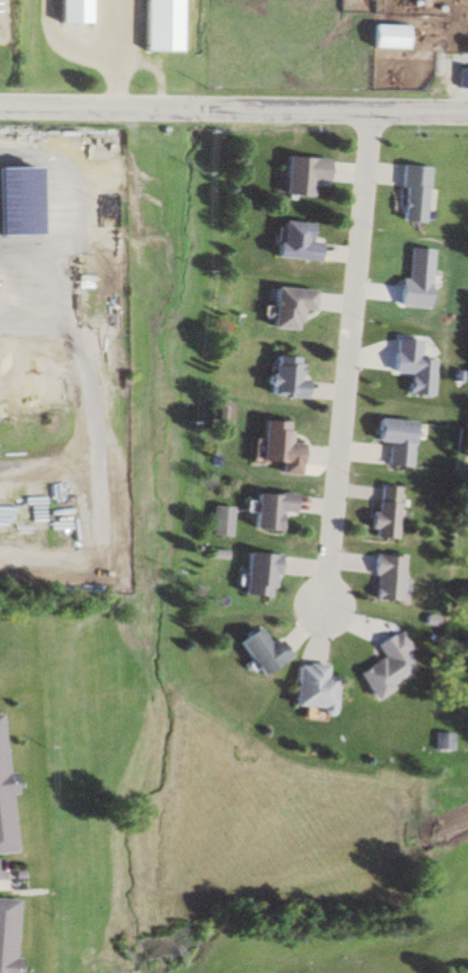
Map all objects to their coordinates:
building: (67, 11)
building: (157, 25)
building: (408, 57)
road: (233, 108)
building: (299, 174)
building: (412, 193)
building: (17, 206)
building: (290, 241)
road: (32, 290)
building: (285, 306)
road: (347, 358)
building: (282, 377)
building: (393, 440)
building: (272, 444)
building: (266, 510)
building: (381, 513)
building: (217, 522)
building: (253, 576)
building: (382, 579)
building: (255, 653)
building: (381, 667)
building: (306, 690)
building: (443, 742)
building: (3, 793)
building: (5, 933)

